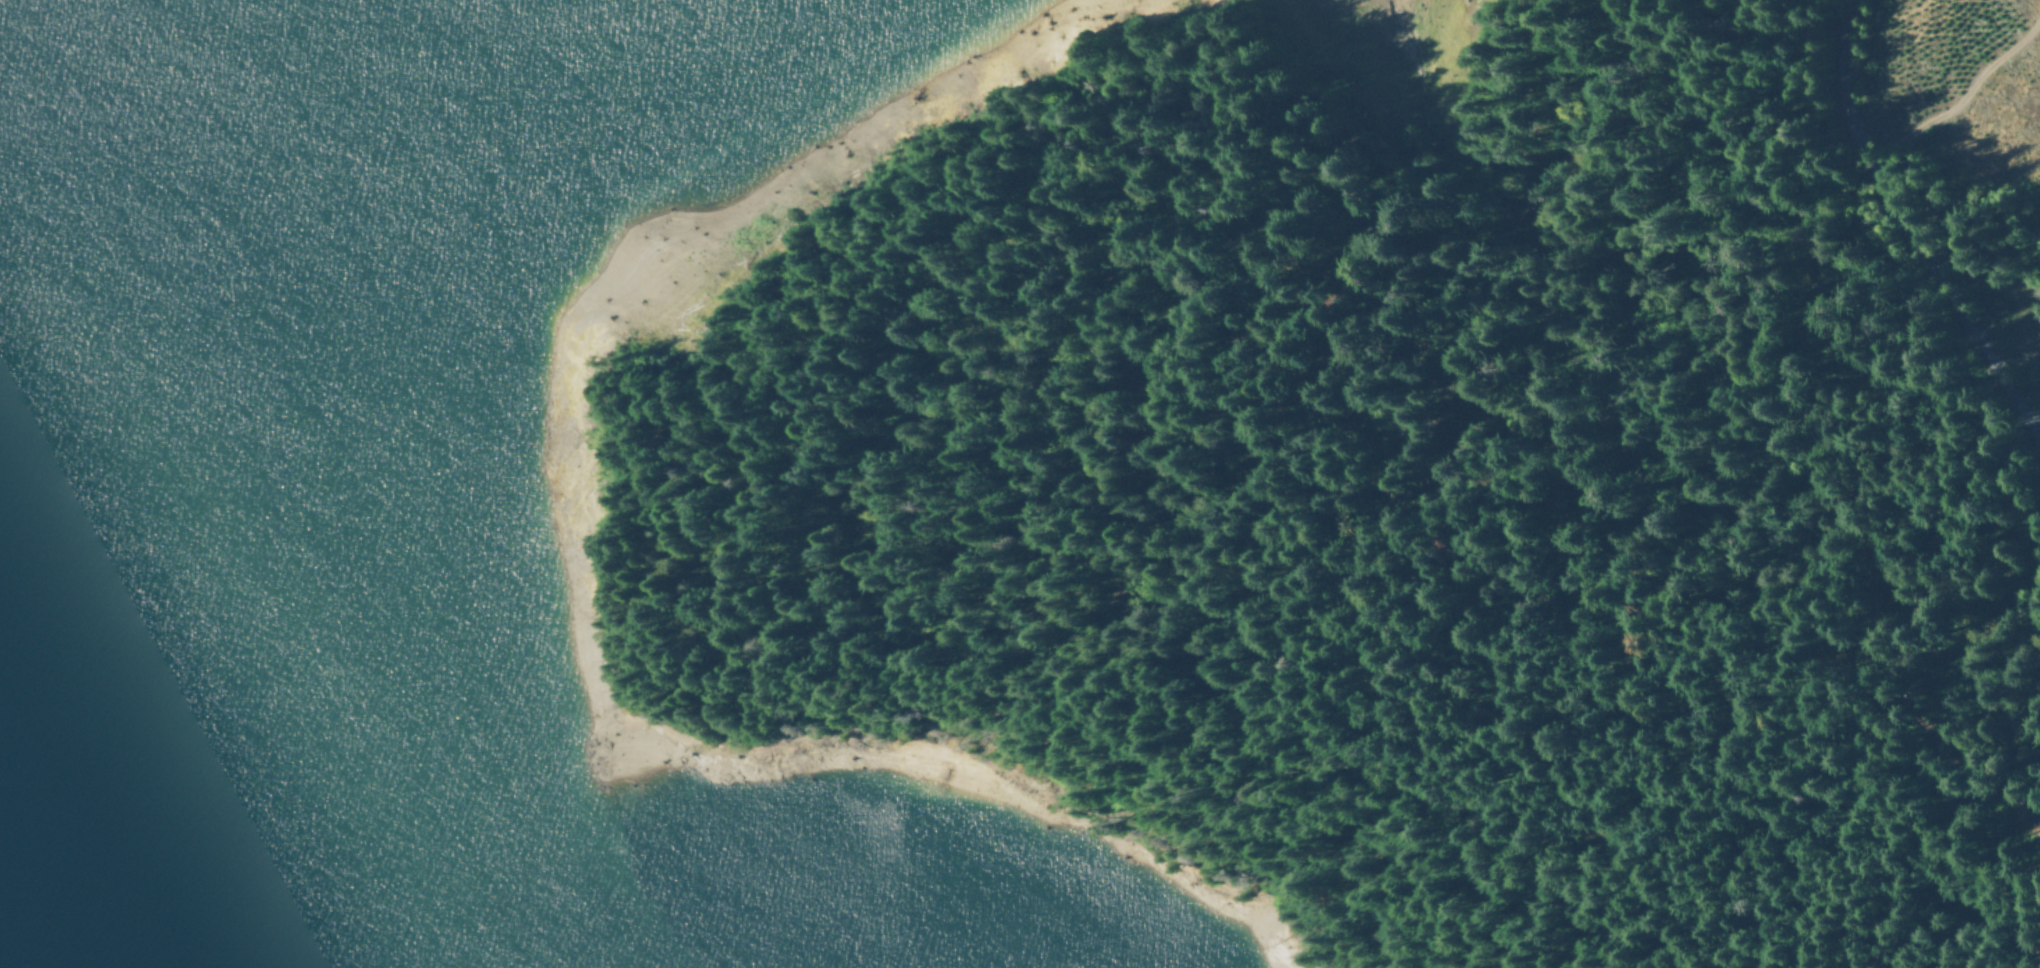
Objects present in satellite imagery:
road: (1906, 230)

